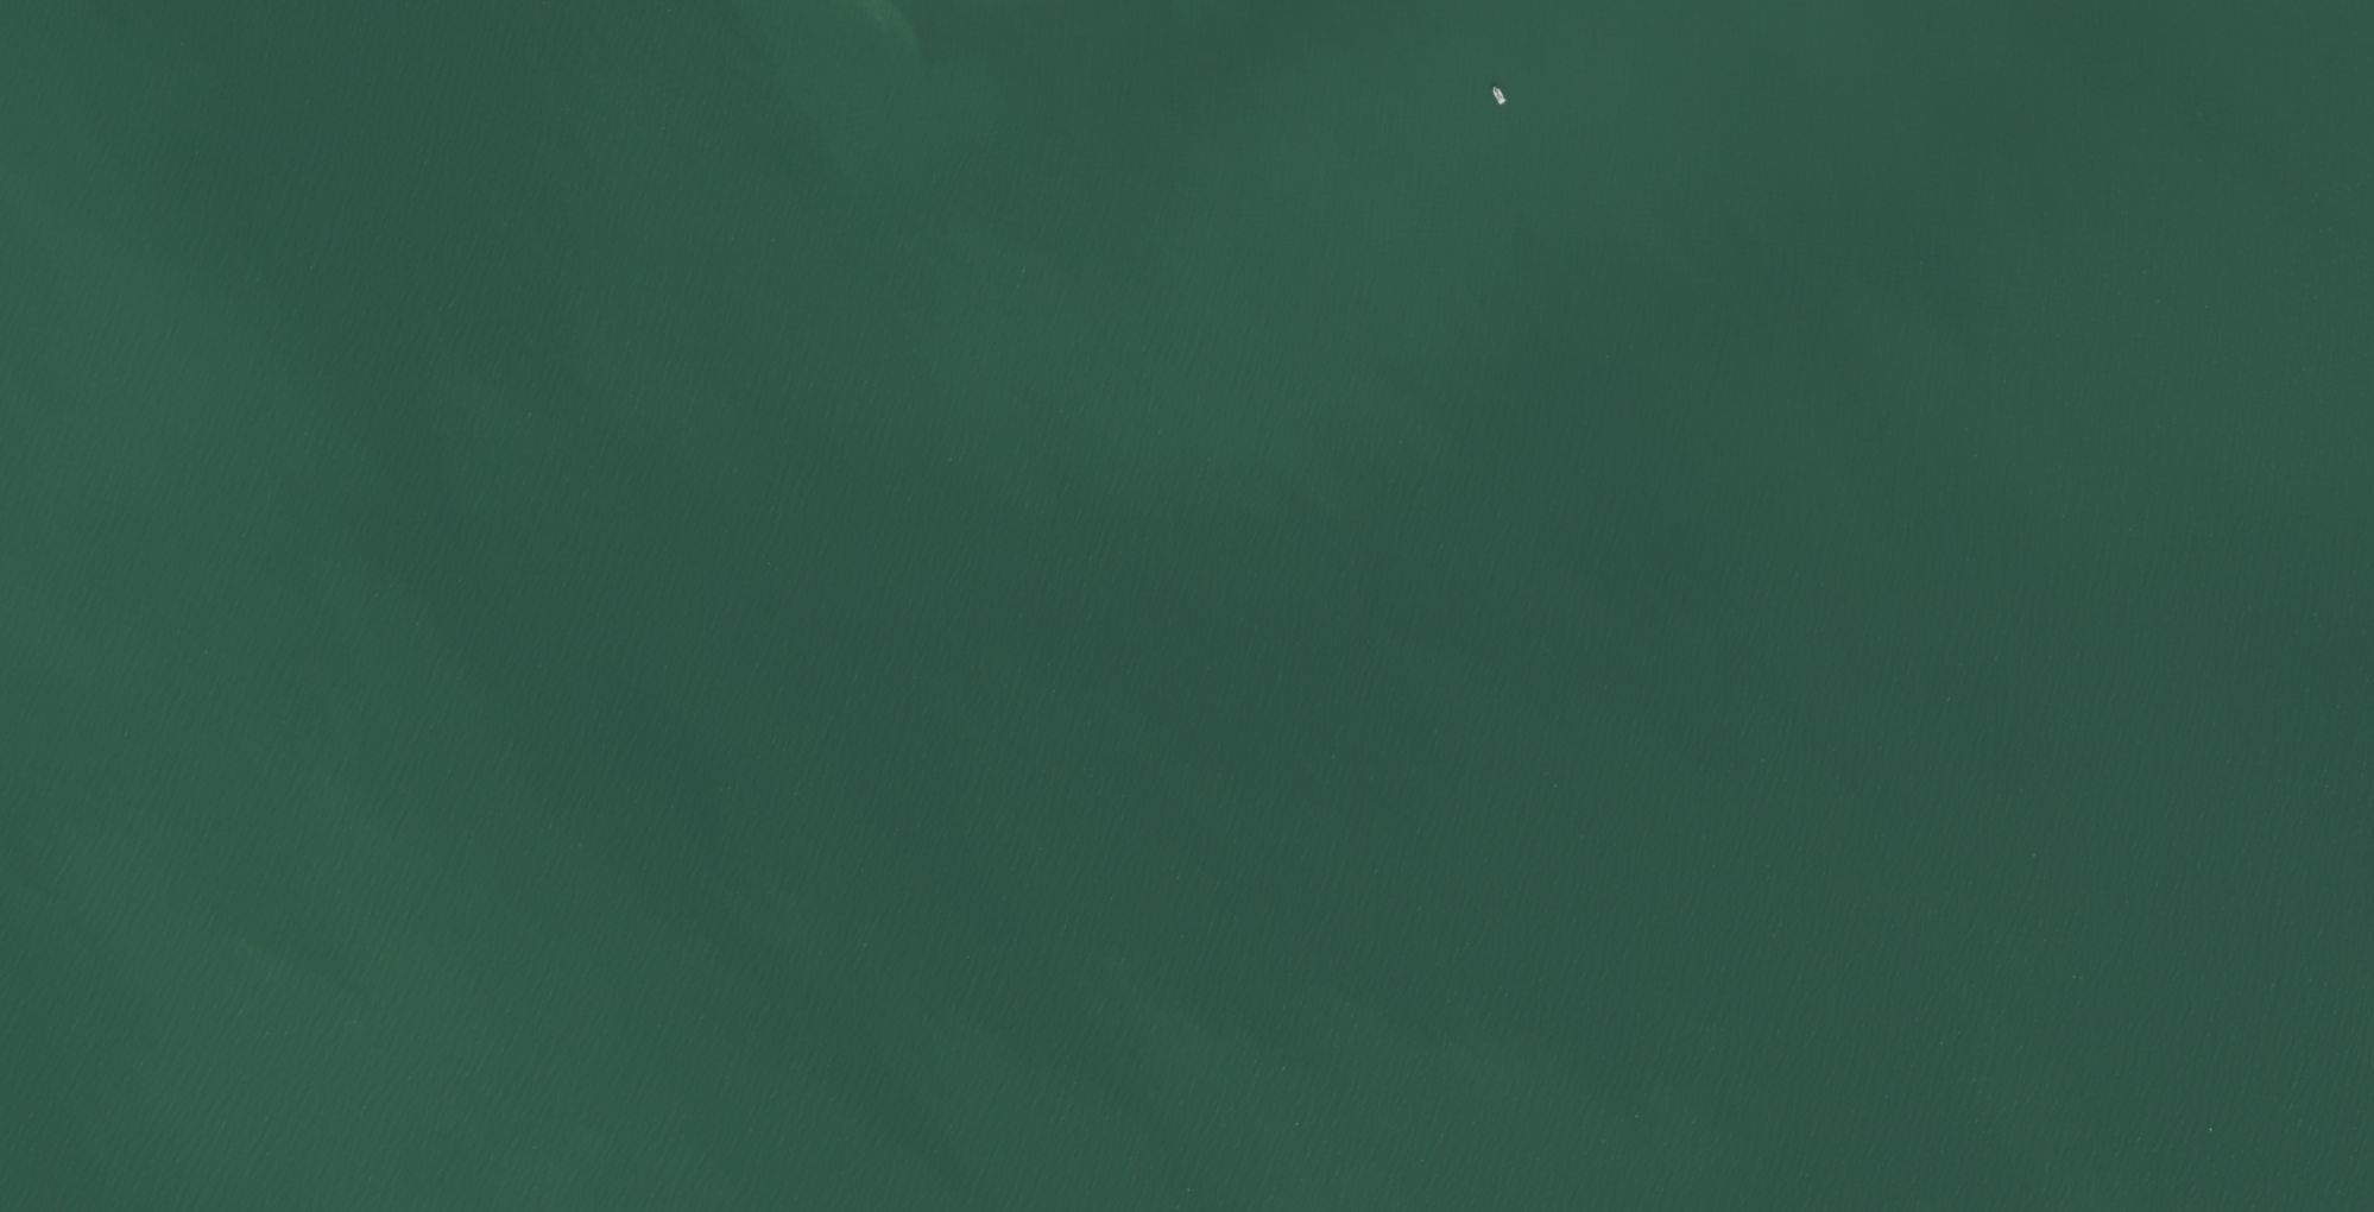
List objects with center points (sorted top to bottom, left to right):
river: (455, 1162)

